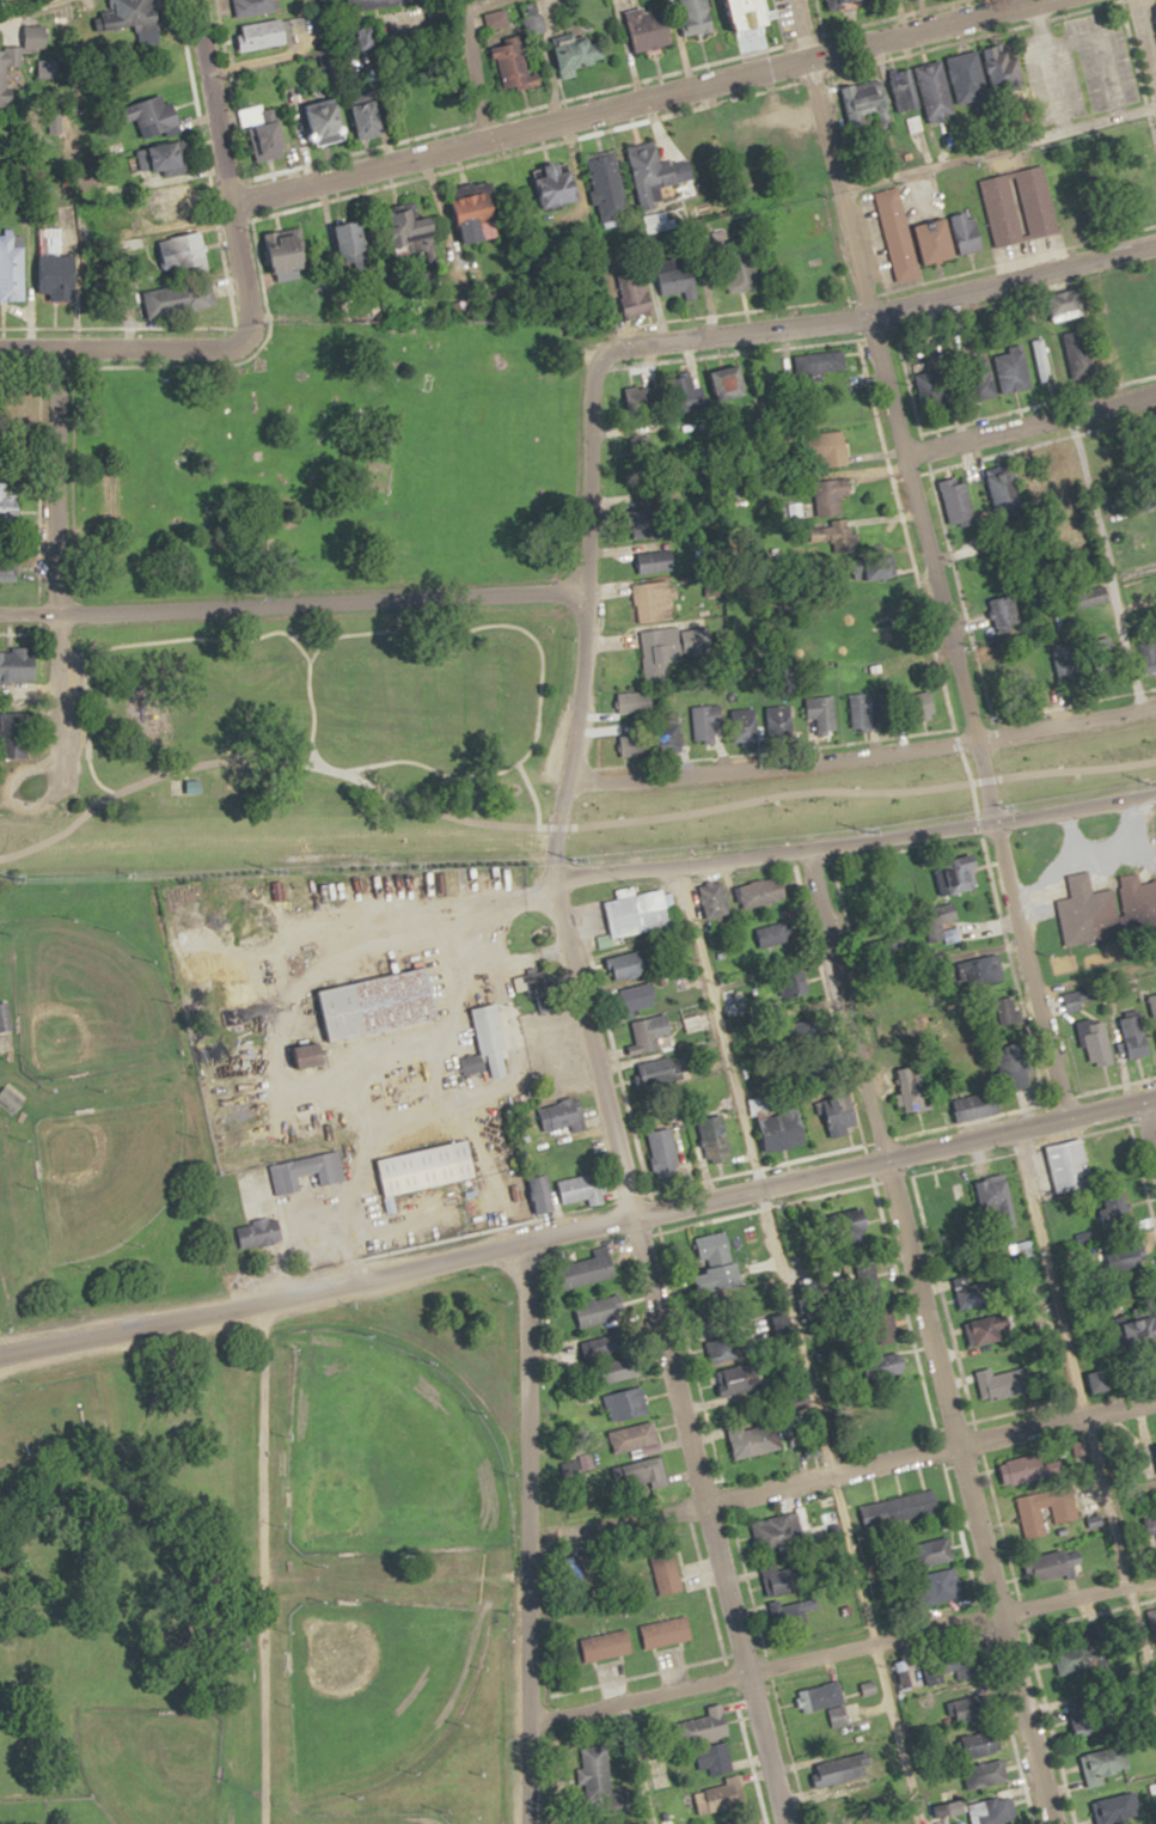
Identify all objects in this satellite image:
building: (1155, 0)
building: (840, 2)
road: (19, 6)
building: (257, 7)
building: (756, 14)
building: (695, 17)
building: (148, 20)
building: (650, 28)
road: (1148, 31)
building: (267, 35)
building: (582, 53)
building: (513, 62)
road: (484, 66)
building: (984, 73)
building: (2, 74)
building: (932, 91)
building: (907, 93)
road: (630, 99)
road: (208, 100)
building: (863, 100)
building: (153, 116)
building: (328, 120)
building: (371, 120)
building: (271, 134)
road: (993, 148)
building: (164, 158)
building: (650, 171)
building: (558, 187)
building: (607, 187)
building: (479, 201)
building: (172, 203)
building: (1017, 205)
road: (232, 220)
building: (417, 224)
building: (967, 231)
building: (895, 232)
building: (354, 239)
building: (936, 239)
building: (186, 252)
building: (293, 252)
building: (12, 267)
building: (57, 276)
road: (1010, 277)
building: (677, 280)
building: (634, 292)
building: (1140, 293)
building: (179, 298)
building: (1066, 305)
road: (732, 333)
road: (172, 348)
building: (1077, 355)
building: (1139, 356)
building: (816, 361)
road: (1027, 421)
building: (832, 449)
road: (1075, 456)
park: (331, 464)
building: (1001, 489)
building: (830, 495)
building: (956, 499)
building: (8, 502)
building: (646, 524)
road: (56, 553)
building: (655, 560)
building: (7, 573)
road: (934, 587)
building: (650, 600)
road: (292, 602)
building: (1003, 612)
road: (313, 639)
building: (660, 649)
building: (18, 664)
road: (539, 688)
building: (635, 701)
building: (864, 708)
park: (317, 712)
building: (821, 712)
parking lot: (68, 734)
building: (634, 744)
road: (860, 750)
road: (56, 785)
road: (102, 786)
road: (856, 841)
building: (956, 873)
building: (763, 891)
building: (1131, 896)
building: (712, 898)
building: (1079, 909)
building: (638, 913)
building: (629, 964)
building: (992, 978)
building: (539, 988)
building: (638, 998)
park: (81, 999)
building: (1079, 999)
building: (380, 1003)
building: (4, 1015)
building: (652, 1033)
building: (1134, 1038)
building: (488, 1043)
building: (1097, 1043)
building: (312, 1051)
building: (654, 1072)
building: (1023, 1078)
building: (916, 1087)
road: (604, 1094)
building: (10, 1099)
building: (978, 1104)
building: (567, 1115)
building: (839, 1116)
building: (779, 1125)
road: (1149, 1127)
building: (715, 1140)
building: (570, 1153)
building: (661, 1153)
building: (428, 1166)
building: (1062, 1166)
building: (304, 1170)
park: (103, 1172)
building: (582, 1188)
building: (995, 1195)
building: (948, 1206)
road: (577, 1226)
building: (259, 1232)
building: (718, 1259)
building: (586, 1270)
building: (972, 1289)
building: (595, 1311)
building: (1146, 1329)
building: (986, 1330)
road: (930, 1336)
building: (605, 1343)
road: (796, 1343)
building: (723, 1349)
building: (892, 1366)
building: (620, 1369)
building: (732, 1380)
building: (999, 1383)
building: (626, 1403)
road: (1084, 1415)
building: (632, 1436)
building: (753, 1440)
park: (385, 1454)
road: (840, 1470)
building: (1015, 1471)
building: (900, 1508)
building: (1064, 1512)
road: (526, 1531)
building: (775, 1533)
road: (262, 1561)
building: (1054, 1564)
park: (264, 1574)
building: (665, 1575)
building: (946, 1585)
building: (665, 1633)
building: (605, 1646)
road: (840, 1651)
building: (935, 1671)
park: (372, 1688)
building: (824, 1702)
building: (968, 1709)
building: (1083, 1718)
building: (705, 1726)
building: (712, 1759)
building: (987, 1761)
road: (635, 1762)
park: (147, 1764)
building: (1102, 1765)
building: (594, 1771)
building: (716, 1799)
building: (1117, 1808)
building: (993, 1812)
park: (371, 1818)
building: (732, 1822)

